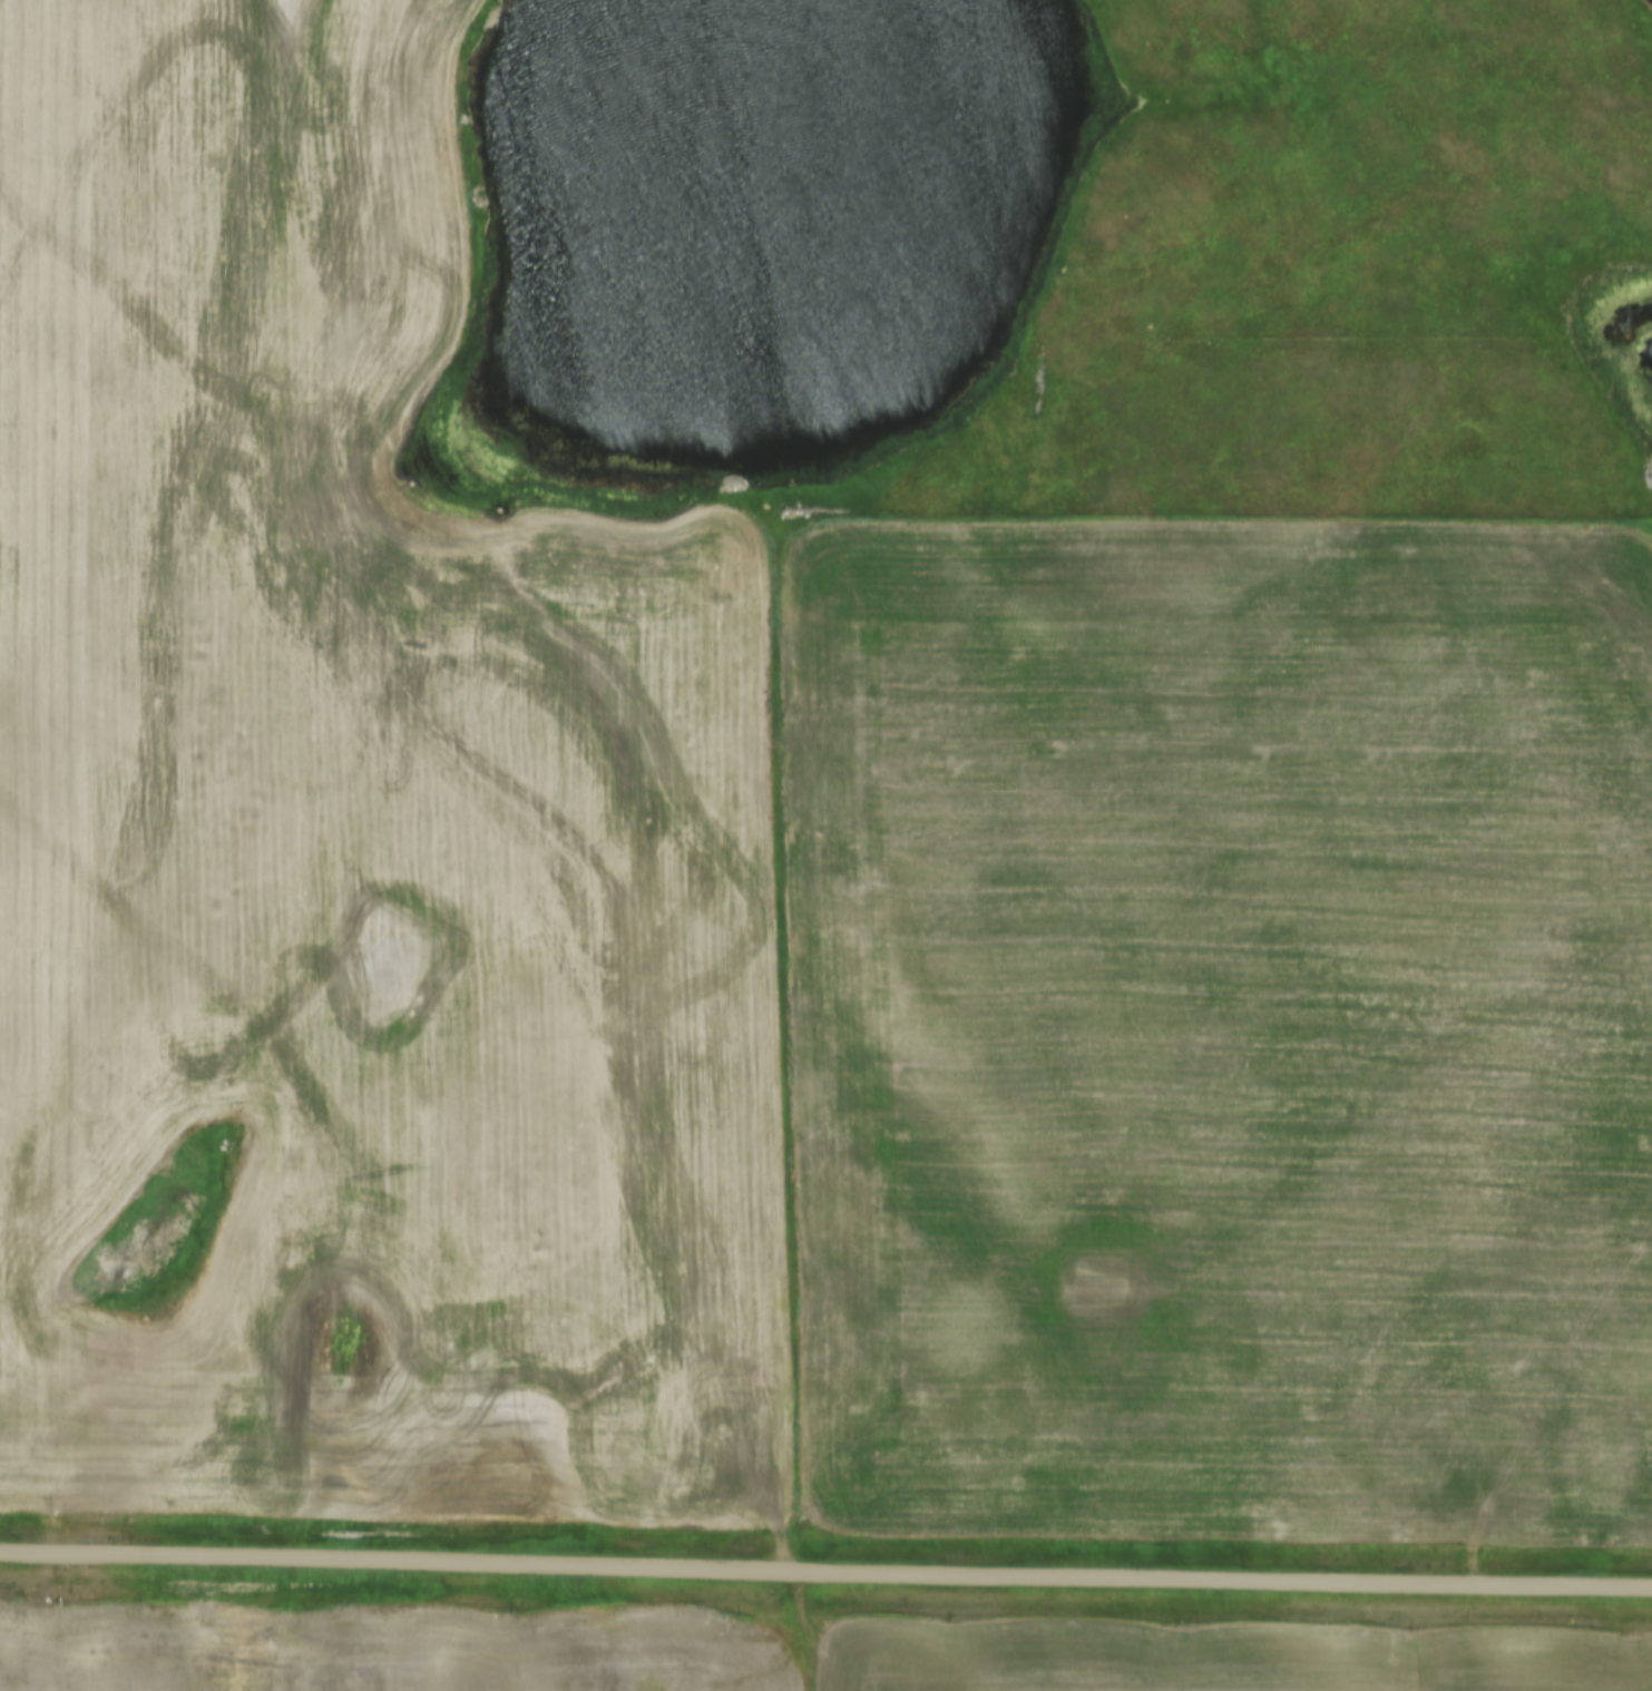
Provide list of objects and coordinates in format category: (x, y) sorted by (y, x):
road: (825, 1571)

